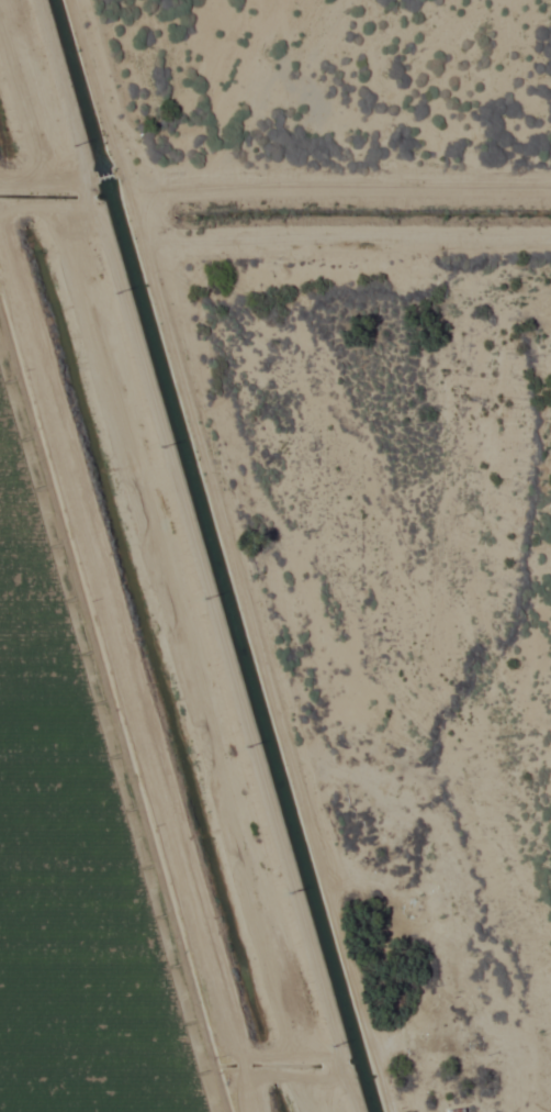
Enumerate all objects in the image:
building: (458, 1110)

